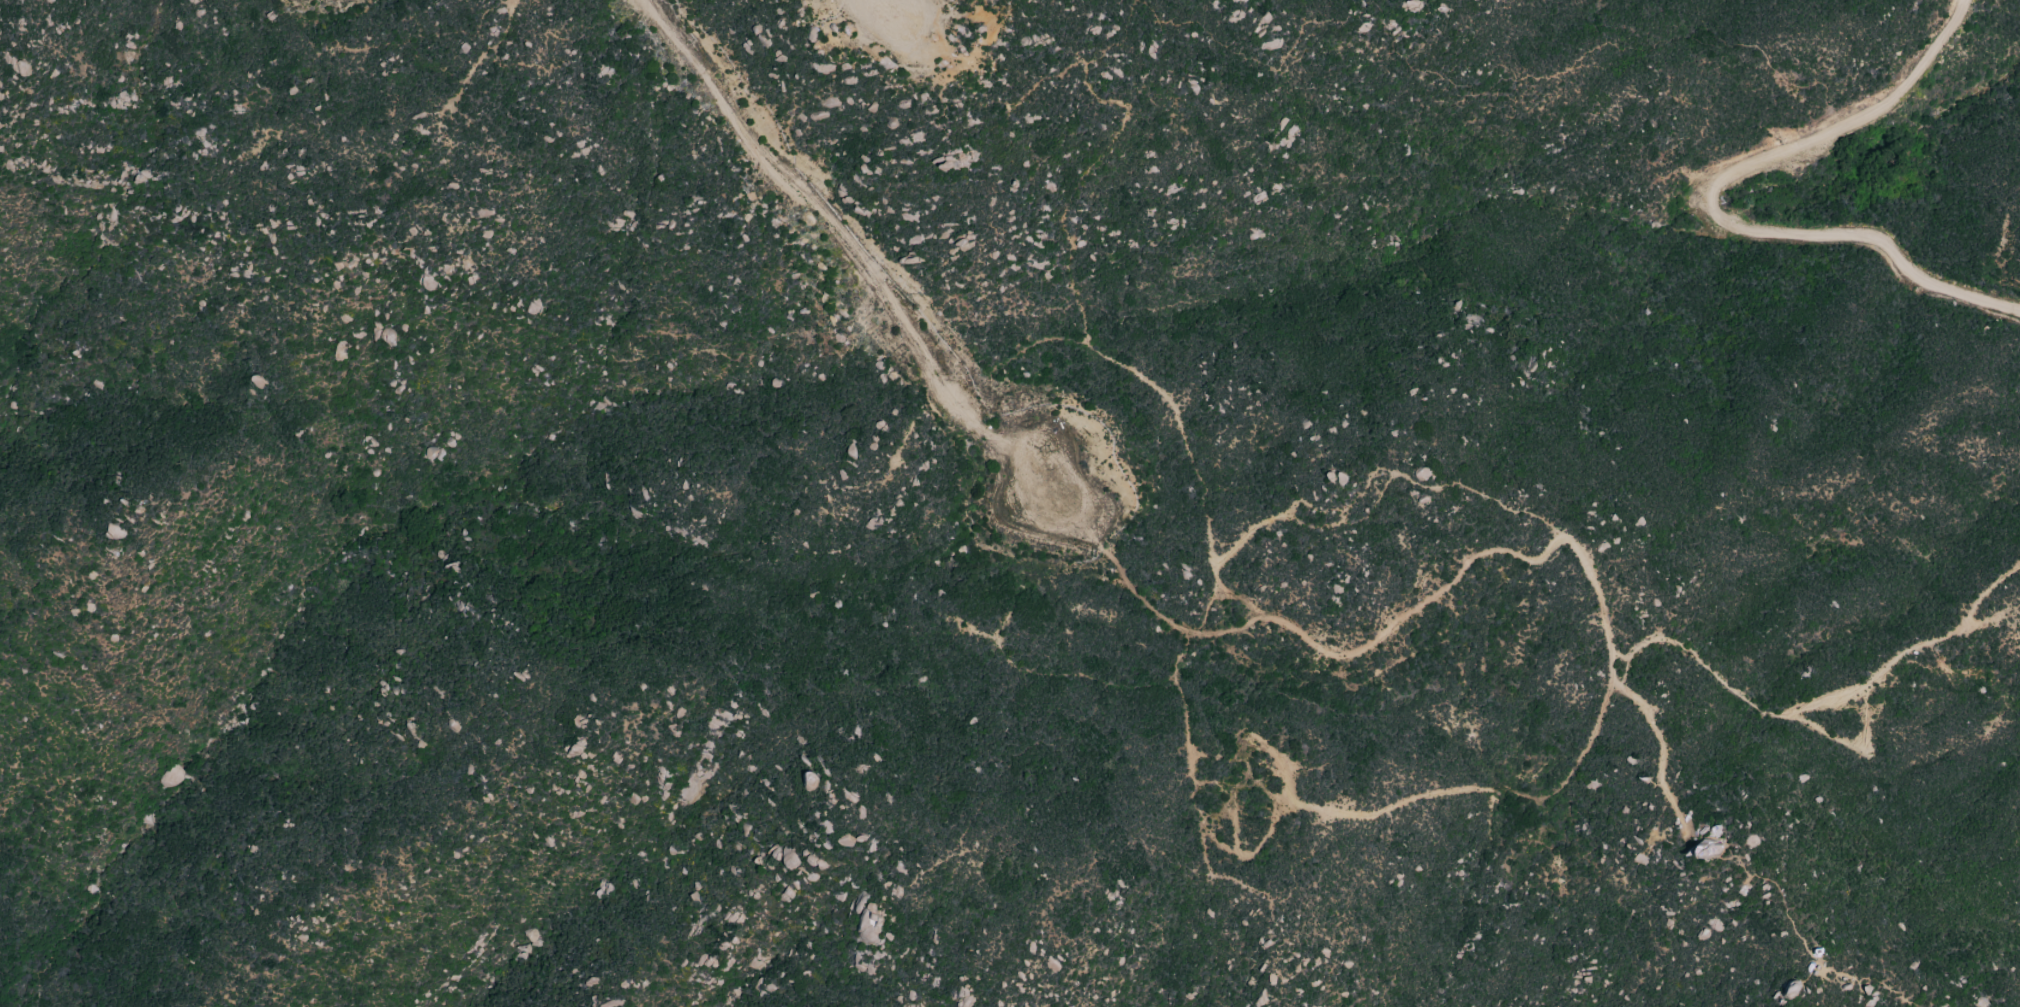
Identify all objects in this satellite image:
road: (1710, 202)

